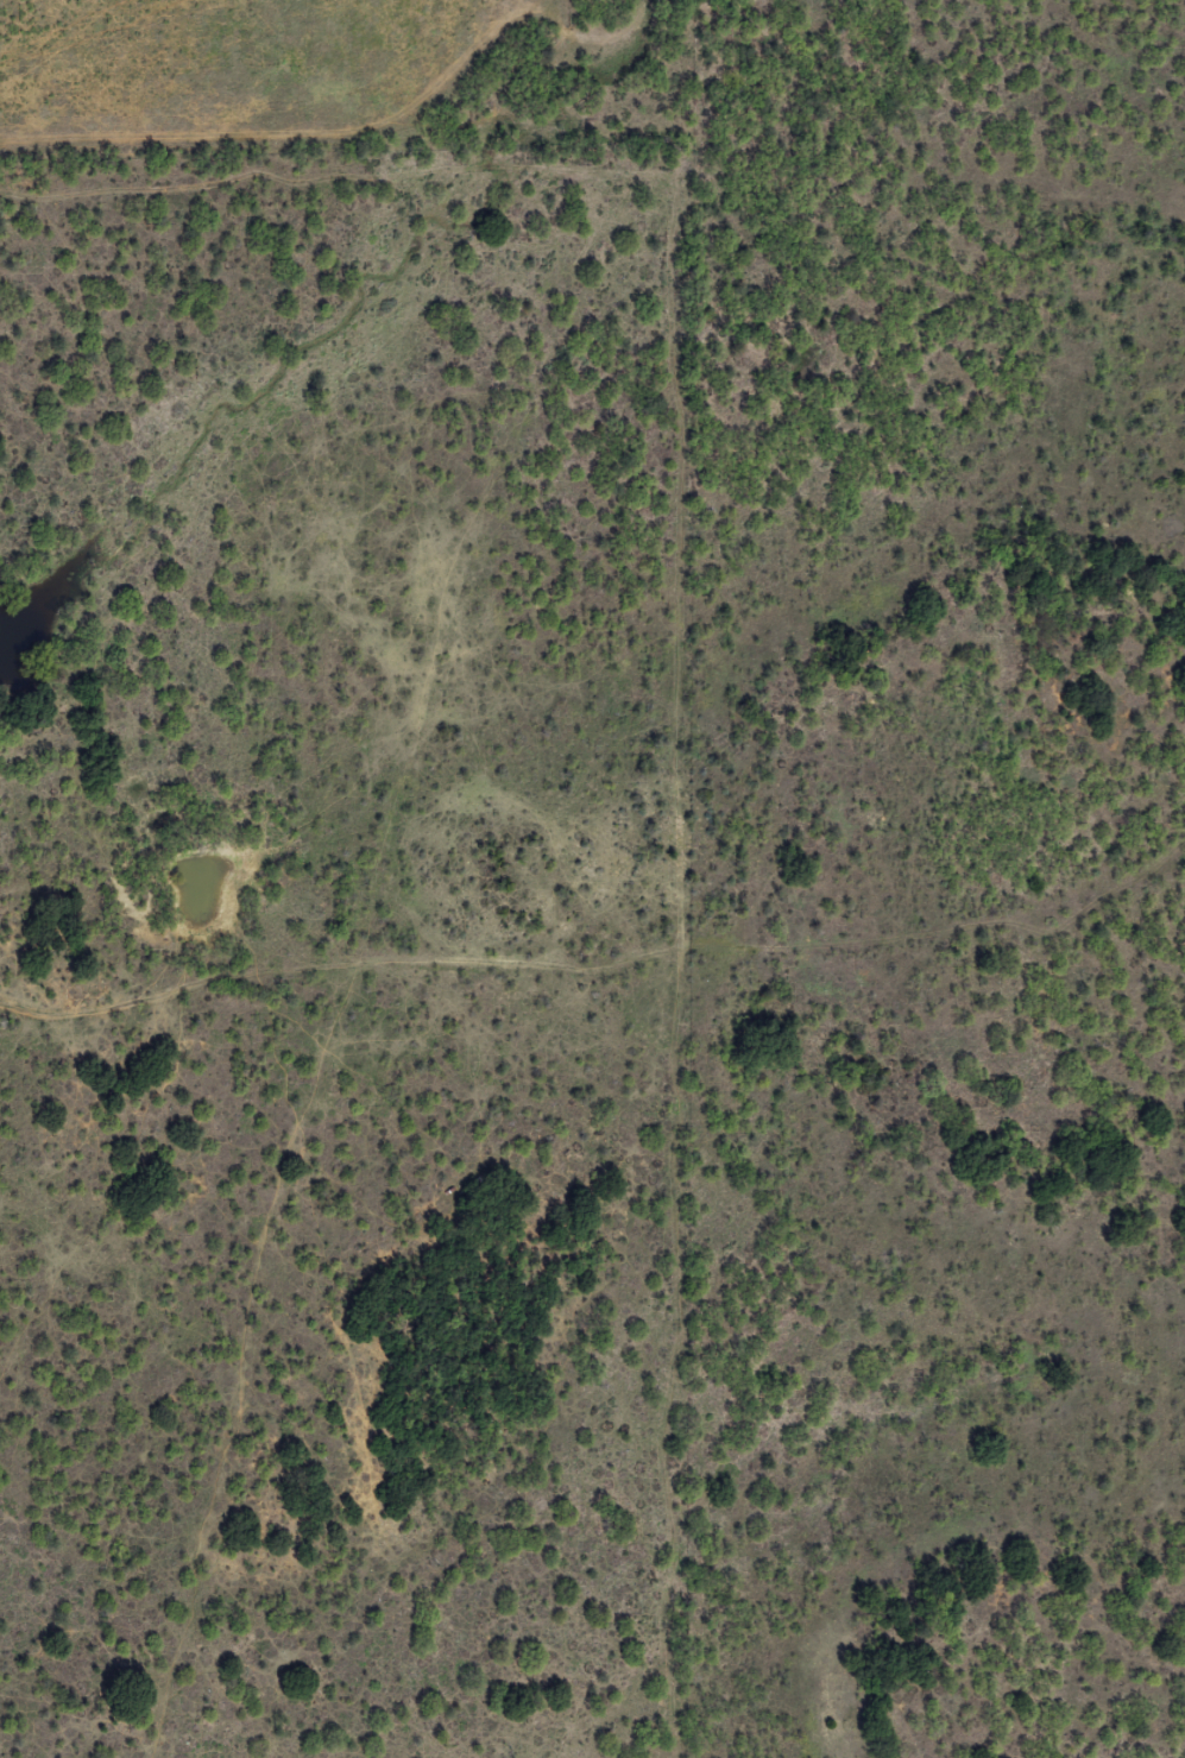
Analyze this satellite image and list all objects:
road: (593, 943)

